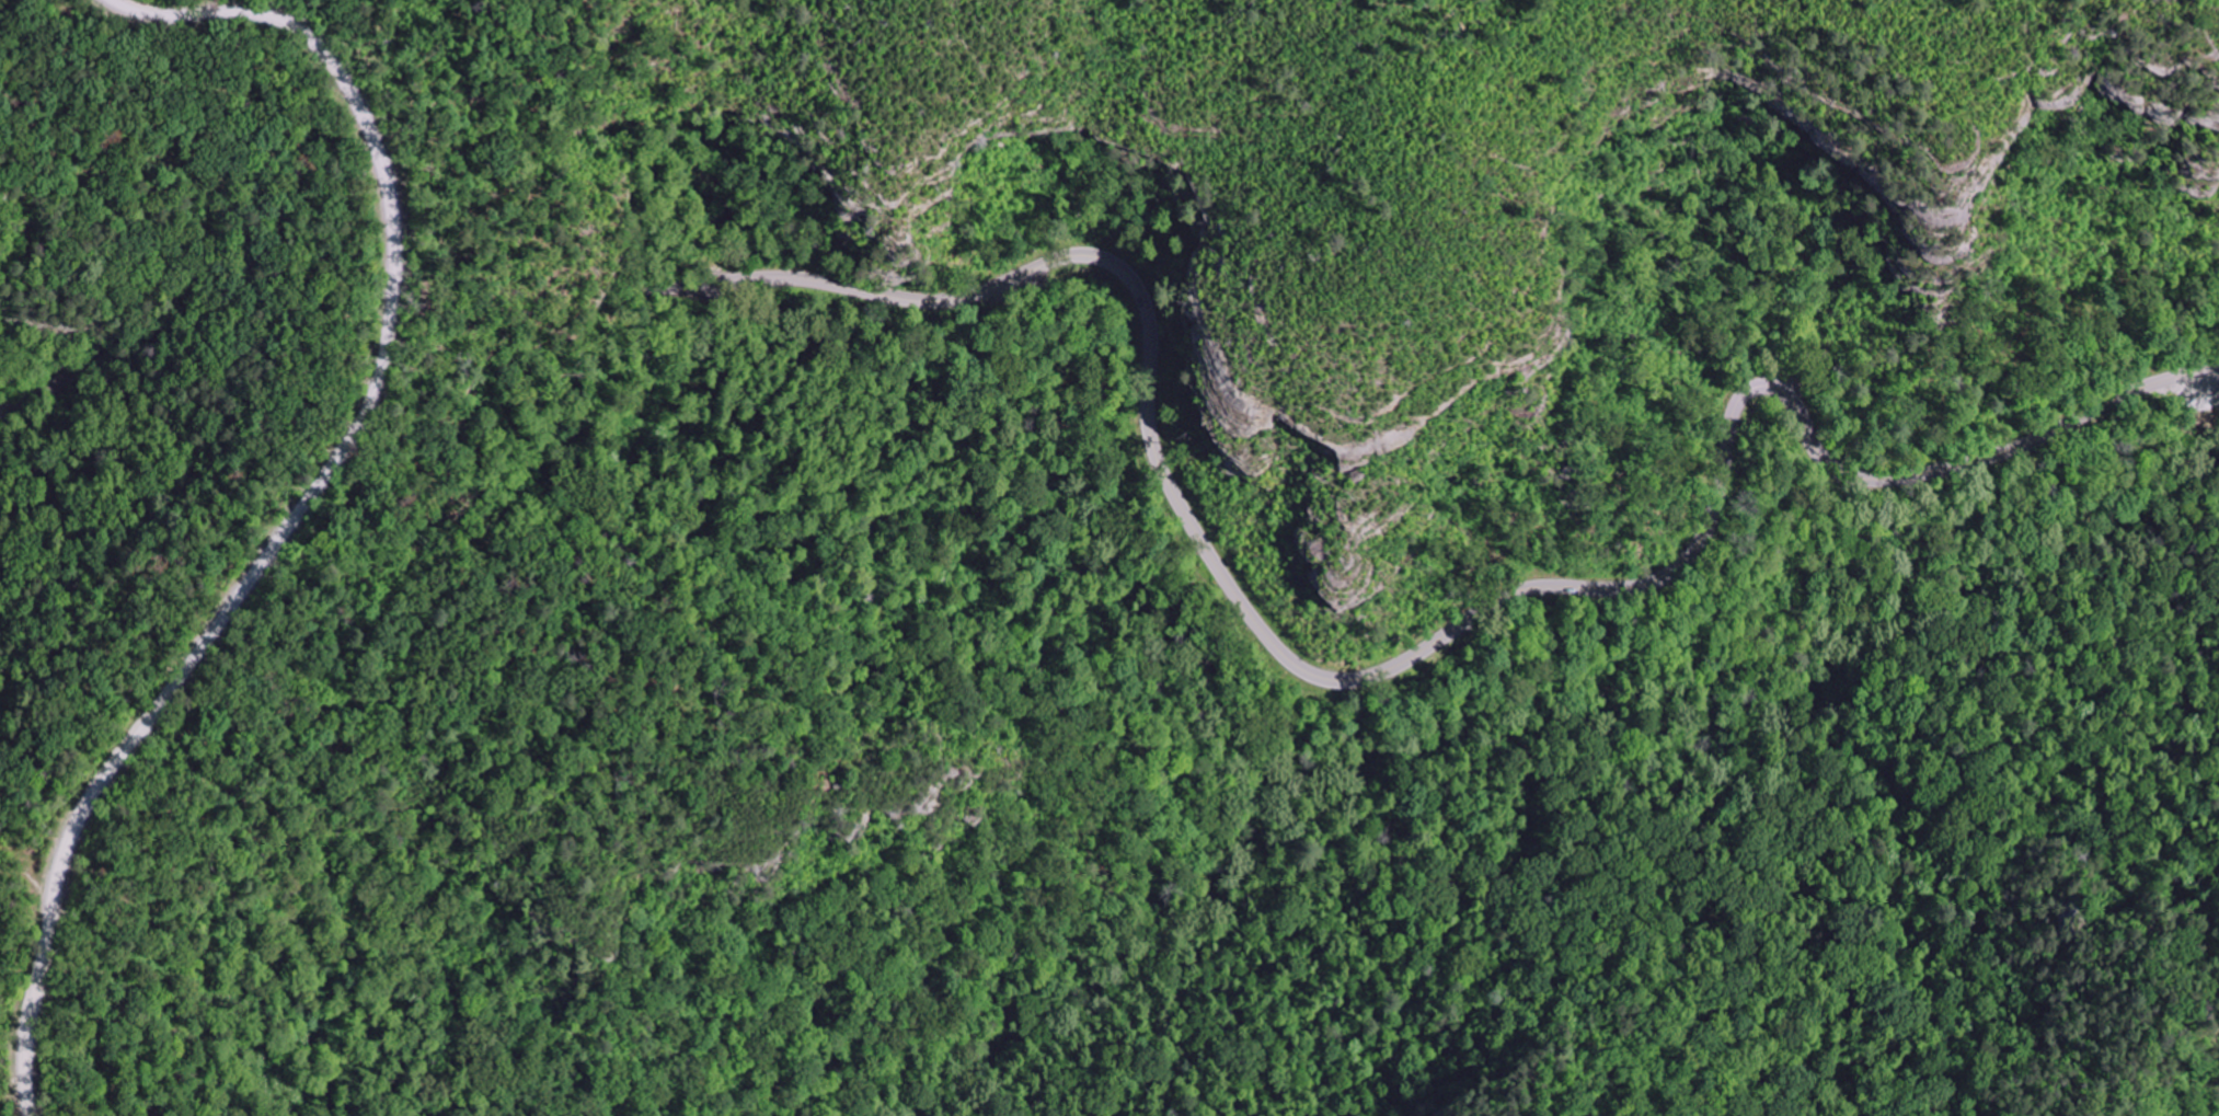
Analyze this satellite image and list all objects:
road: (83, 360)
road: (311, 496)
road: (1427, 649)

